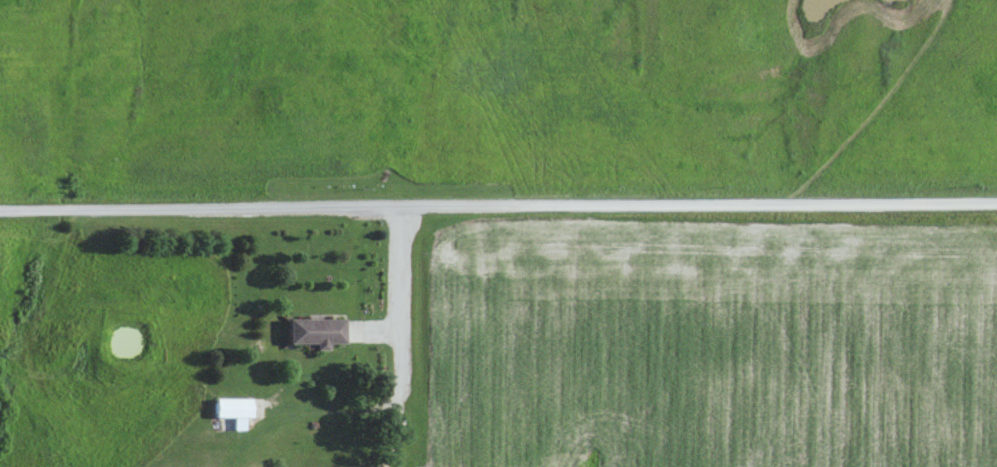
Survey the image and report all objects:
road: (498, 202)
road: (400, 284)
building: (319, 332)

